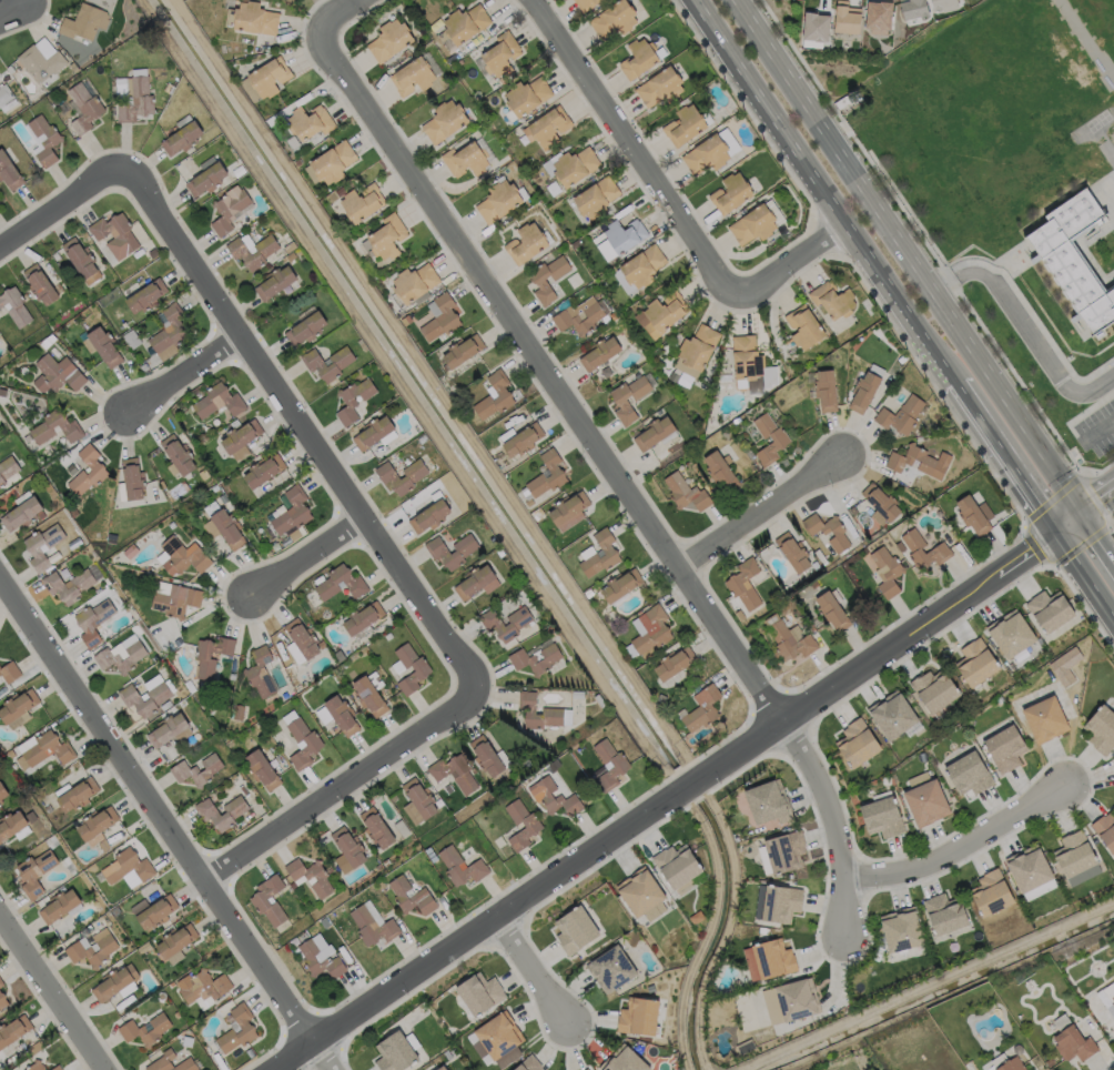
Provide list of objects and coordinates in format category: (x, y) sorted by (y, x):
building: (587, 3)
building: (943, 4)
road: (12, 8)
building: (913, 9)
road: (337, 16)
building: (879, 16)
building: (255, 18)
building: (616, 18)
building: (847, 18)
building: (466, 21)
building: (83, 23)
building: (816, 26)
building: (389, 38)
building: (502, 54)
building: (639, 58)
building: (42, 60)
building: (270, 74)
building: (413, 74)
building: (660, 87)
building: (4, 93)
building: (528, 93)
building: (133, 94)
building: (83, 108)
building: (445, 120)
building: (310, 121)
building: (685, 124)
building: (547, 127)
building: (181, 135)
building: (44, 140)
building: (708, 154)
building: (466, 159)
building: (333, 161)
building: (575, 164)
building: (9, 169)
building: (206, 175)
road: (859, 184)
building: (733, 192)
road: (822, 193)
building: (597, 196)
building: (499, 200)
building: (362, 201)
road: (667, 201)
road: (64, 208)
building: (227, 210)
building: (756, 224)
building: (114, 233)
building: (625, 234)
building: (387, 235)
building: (526, 243)
building: (240, 252)
building: (81, 260)
building: (1073, 260)
building: (645, 265)
building: (274, 281)
building: (539, 281)
building: (415, 282)
road: (942, 283)
building: (39, 284)
building: (145, 295)
building: (833, 299)
building: (14, 305)
building: (662, 314)
building: (579, 315)
building: (440, 316)
building: (806, 326)
building: (306, 327)
building: (170, 329)
road: (1033, 337)
building: (103, 346)
building: (699, 346)
building: (463, 351)
building: (600, 353)
building: (748, 360)
building: (327, 363)
building: (57, 373)
road: (181, 374)
building: (827, 390)
building: (867, 391)
building: (504, 392)
building: (353, 398)
building: (217, 401)
building: (621, 402)
building: (902, 415)
building: (68, 425)
road: (302, 426)
road: (1098, 431)
building: (655, 432)
building: (375, 433)
building: (242, 435)
building: (524, 440)
building: (782, 440)
road: (1032, 444)
building: (178, 454)
building: (919, 461)
road: (1006, 462)
building: (97, 467)
road: (618, 467)
building: (263, 471)
building: (720, 471)
building: (8, 472)
building: (558, 473)
building: (389, 477)
building: (132, 478)
building: (686, 493)
building: (882, 504)
road: (767, 507)
road: (1098, 507)
building: (292, 511)
building: (569, 511)
building: (22, 513)
building: (431, 513)
building: (976, 514)
building: (222, 525)
road: (1070, 528)
building: (829, 531)
road: (1098, 541)
building: (41, 546)
building: (925, 549)
building: (438, 552)
building: (796, 553)
building: (601, 554)
building: (181, 556)
road: (307, 556)
building: (888, 571)
road: (1085, 581)
building: (353, 582)
building: (477, 582)
building: (735, 584)
building: (67, 585)
building: (622, 586)
building: (174, 598)
building: (833, 609)
building: (1051, 609)
building: (362, 618)
building: (493, 624)
building: (83, 625)
building: (651, 629)
building: (1012, 632)
building: (303, 638)
building: (789, 638)
building: (120, 658)
building: (204, 658)
road: (881, 658)
building: (536, 659)
building: (976, 662)
building: (675, 663)
building: (423, 669)
building: (9, 672)
building: (260, 673)
building: (935, 688)
building: (371, 694)
building: (145, 696)
building: (17, 709)
building: (553, 709)
building: (703, 709)
building: (893, 714)
building: (342, 716)
building: (1045, 718)
building: (1102, 728)
building: (168, 729)
building: (857, 743)
building: (303, 744)
building: (1006, 747)
building: (44, 751)
building: (487, 757)
building: (610, 766)
building: (196, 770)
building: (262, 770)
building: (970, 771)
building: (454, 773)
road: (338, 786)
road: (687, 786)
building: (2, 794)
building: (77, 796)
building: (556, 798)
building: (926, 798)
building: (769, 801)
building: (418, 802)
building: (207, 814)
building: (882, 816)
building: (533, 825)
building: (11, 826)
building: (97, 826)
road: (163, 829)
building: (377, 829)
building: (1105, 829)
road: (968, 848)
building: (784, 850)
building: (348, 851)
building: (1074, 854)
building: (676, 865)
building: (140, 866)
building: (460, 867)
building: (1030, 867)
building: (24, 875)
building: (310, 877)
building: (292, 886)
building: (639, 891)
building: (992, 892)
building: (412, 897)
building: (269, 901)
building: (778, 902)
building: (58, 906)
building: (654, 911)
building: (152, 912)
building: (945, 913)
building: (373, 928)
building: (902, 929)
building: (574, 930)
road: (475, 935)
building: (175, 945)
building: (92, 949)
building: (773, 958)
building: (321, 960)
building: (610, 968)
road: (538, 971)
building: (112, 978)
building: (1, 986)
building: (202, 988)
building: (479, 992)
road: (50, 997)
building: (1107, 997)
building: (790, 1000)
building: (2, 1002)
building: (638, 1016)
building: (246, 1029)
building: (145, 1030)
building: (12, 1032)
building: (498, 1040)
building: (1073, 1042)
building: (393, 1052)
building: (164, 1059)
building: (622, 1060)
building: (528, 1063)
building: (1011, 1064)
building: (36, 1066)
building: (55, 1068)
building: (440, 1068)
building: (586, 1069)

